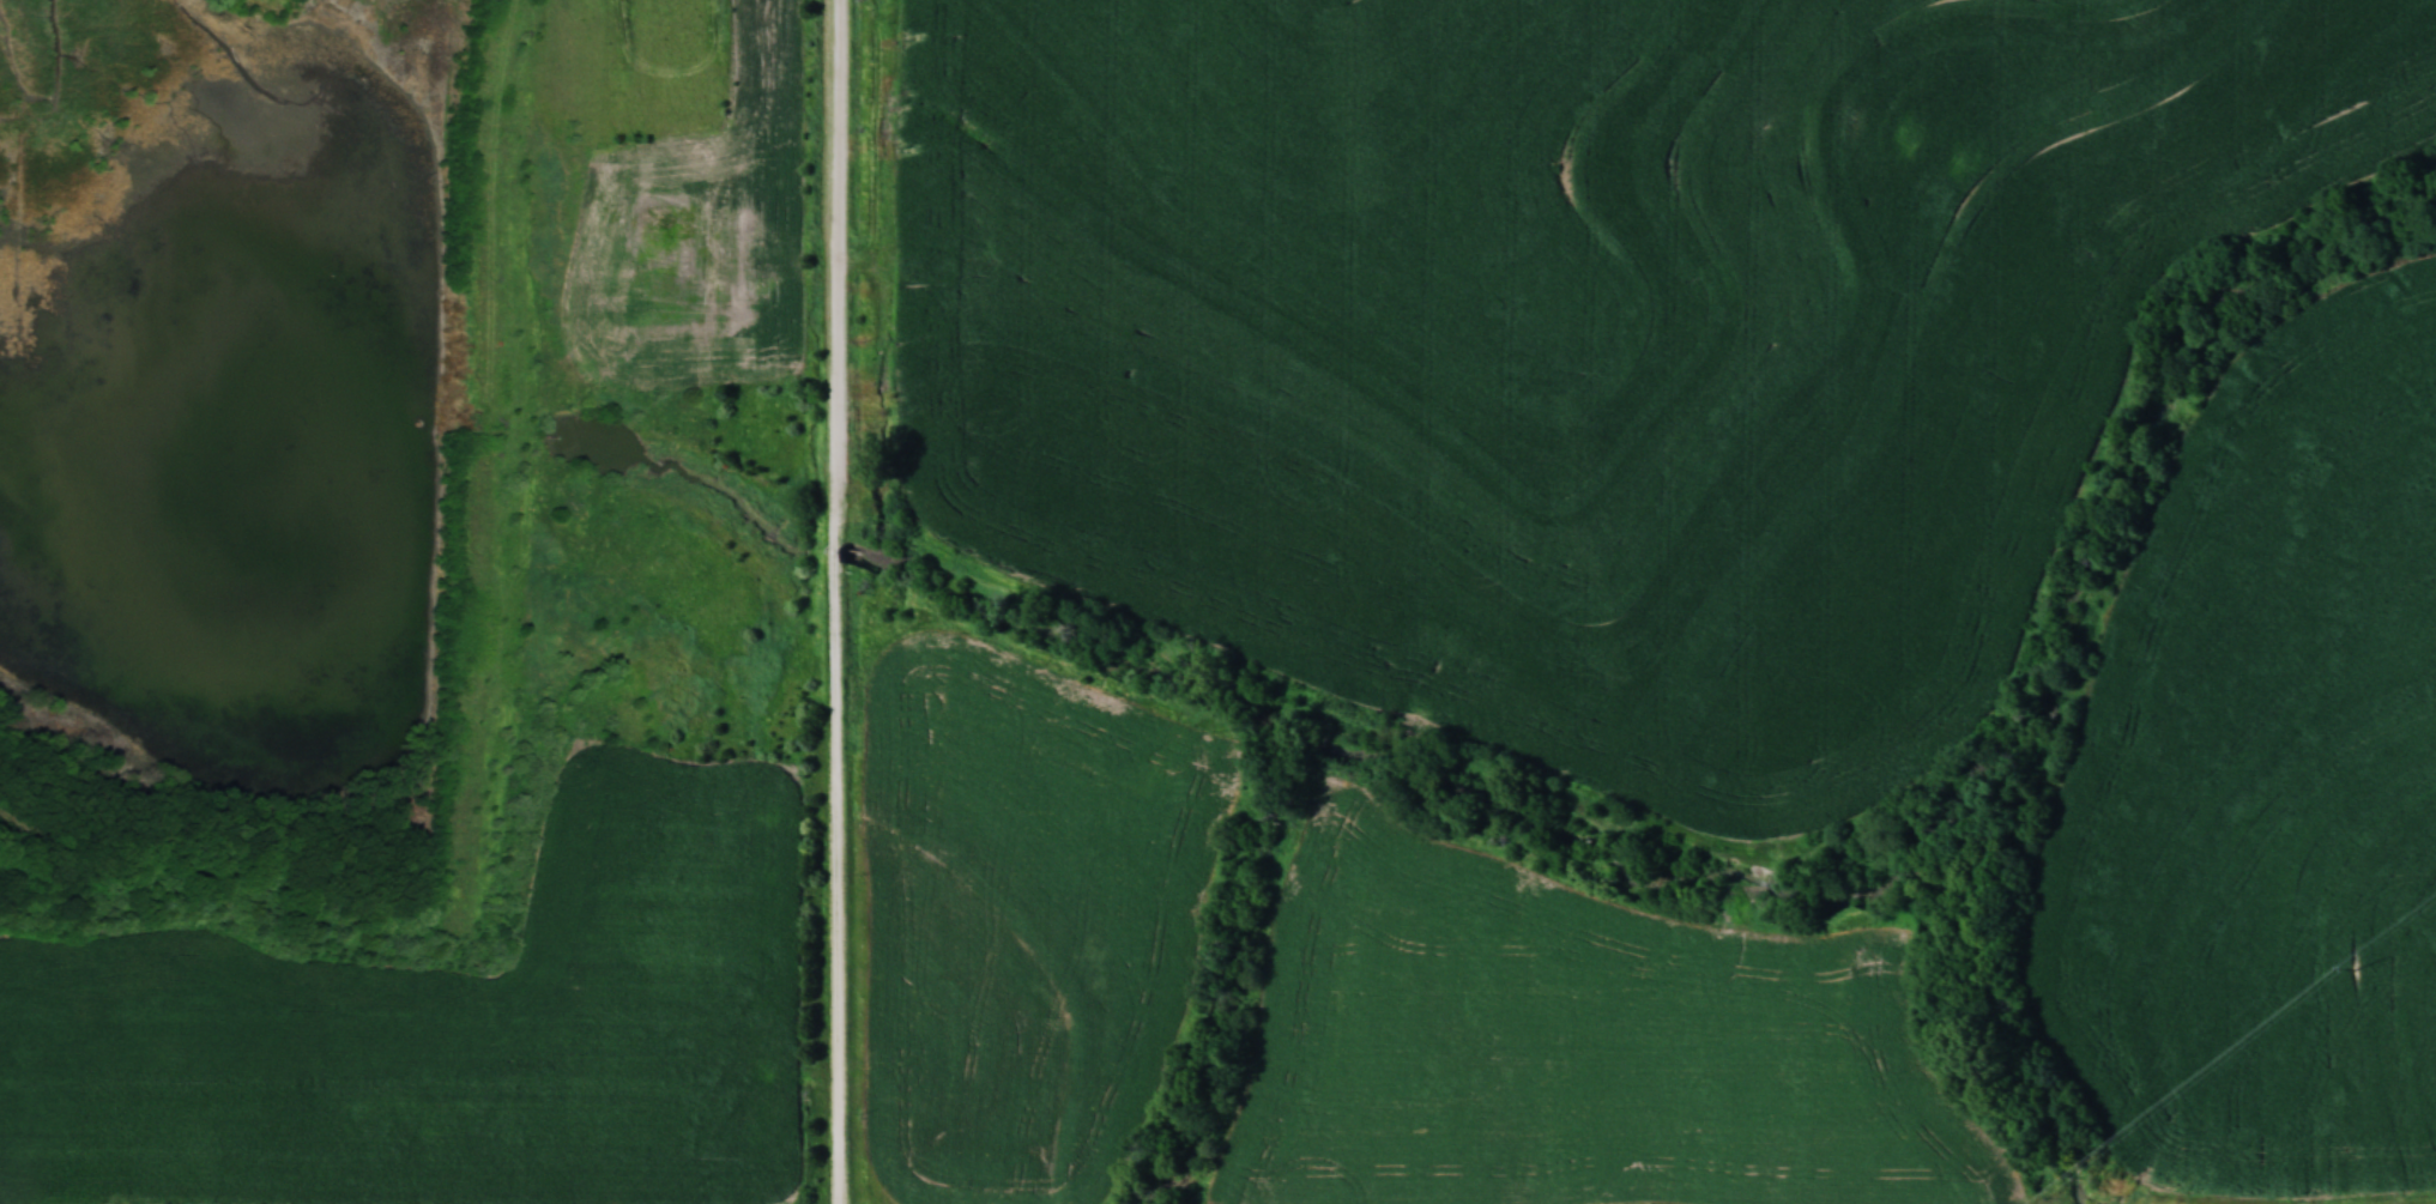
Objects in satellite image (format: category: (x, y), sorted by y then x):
dam: (489, 468)
road: (840, 601)

